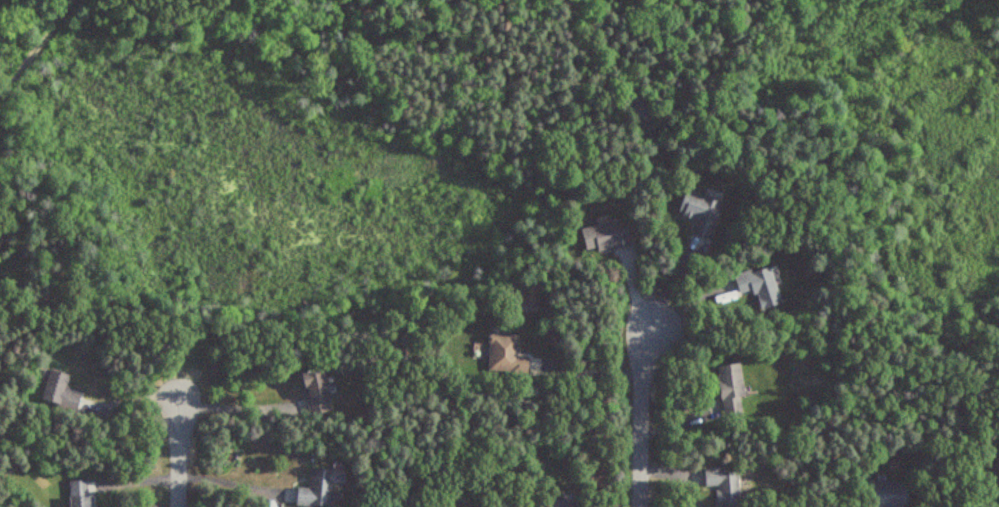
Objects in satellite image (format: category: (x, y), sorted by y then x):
road: (35, 49)
building: (642, 107)
building: (699, 213)
building: (603, 236)
building: (757, 286)
building: (530, 296)
building: (503, 355)
road: (584, 369)
building: (729, 390)
building: (312, 392)
building: (57, 393)
road: (234, 408)
road: (639, 415)
road: (179, 452)
building: (997, 477)
building: (723, 486)
building: (318, 488)
building: (79, 494)
building: (886, 494)
building: (555, 503)

